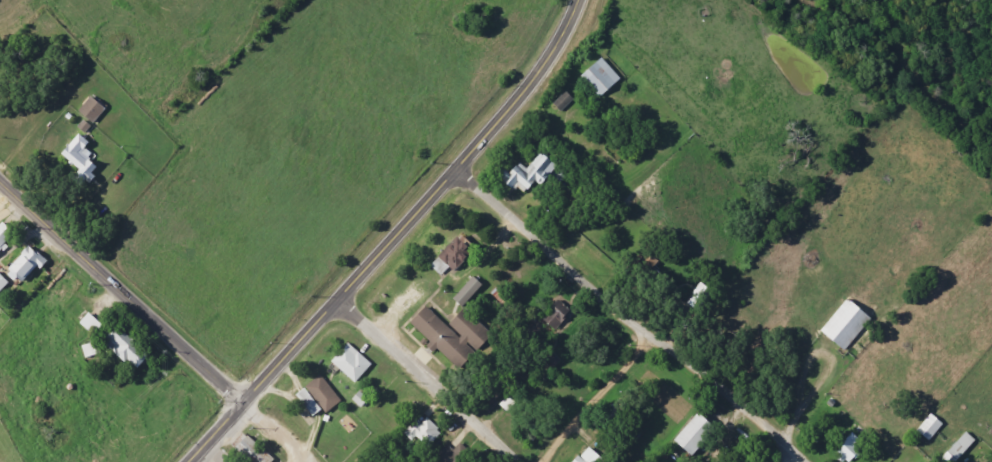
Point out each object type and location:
road: (561, 44)
building: (599, 76)
building: (561, 101)
building: (90, 110)
building: (79, 158)
building: (526, 174)
building: (3, 234)
building: (453, 252)
building: (21, 265)
road: (360, 274)
building: (2, 284)
road: (120, 288)
building: (464, 291)
building: (696, 297)
building: (556, 316)
road: (628, 317)
building: (85, 321)
building: (841, 325)
building: (448, 334)
building: (124, 347)
building: (349, 363)
road: (421, 382)
road: (128, 383)
building: (321, 393)
building: (357, 398)
road: (595, 399)
building: (505, 404)
road: (274, 427)
building: (927, 427)
building: (422, 432)
building: (690, 435)
building: (958, 446)
building: (847, 448)
building: (253, 450)
building: (452, 454)
building: (585, 456)
road: (796, 461)

